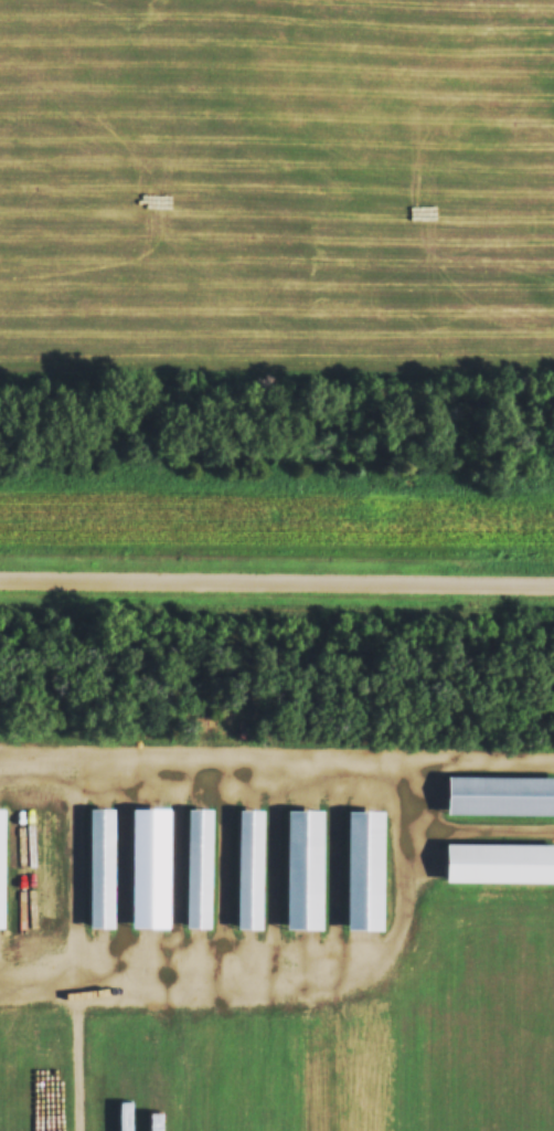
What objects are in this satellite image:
road: (277, 584)
road: (276, 757)
building: (500, 800)
building: (0, 867)
building: (499, 868)
building: (146, 871)
building: (245, 871)
building: (95, 873)
building: (361, 874)
building: (198, 875)
building: (300, 876)

